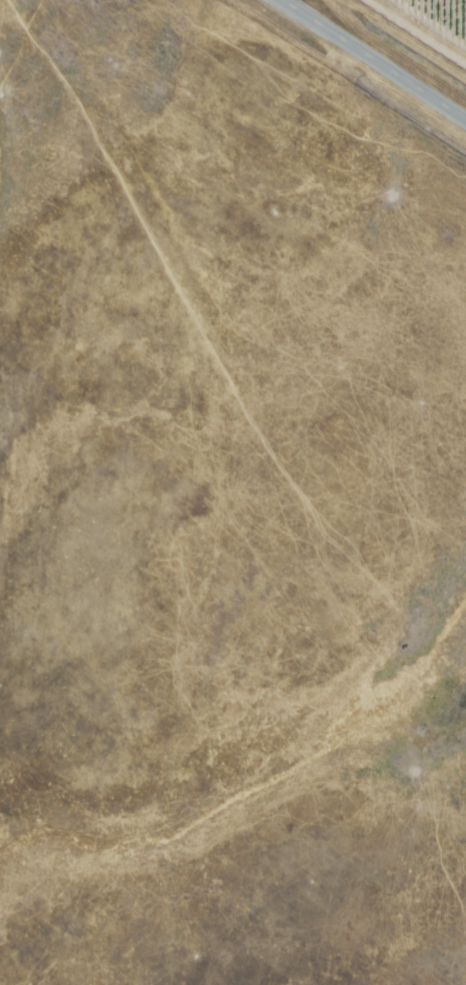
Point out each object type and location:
road: (370, 60)

